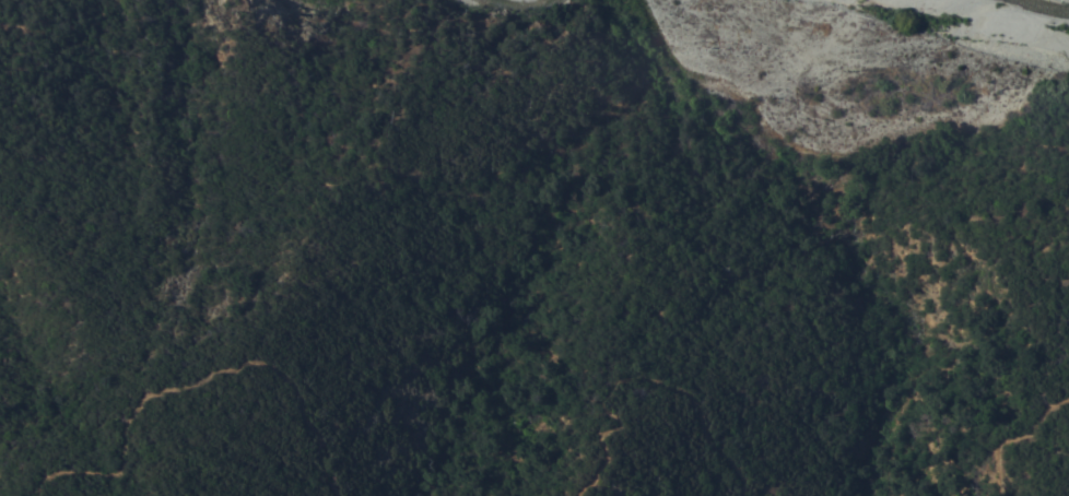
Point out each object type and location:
river: (1047, 4)
river: (522, 5)
road: (198, 373)
road: (656, 383)
road: (1008, 421)

